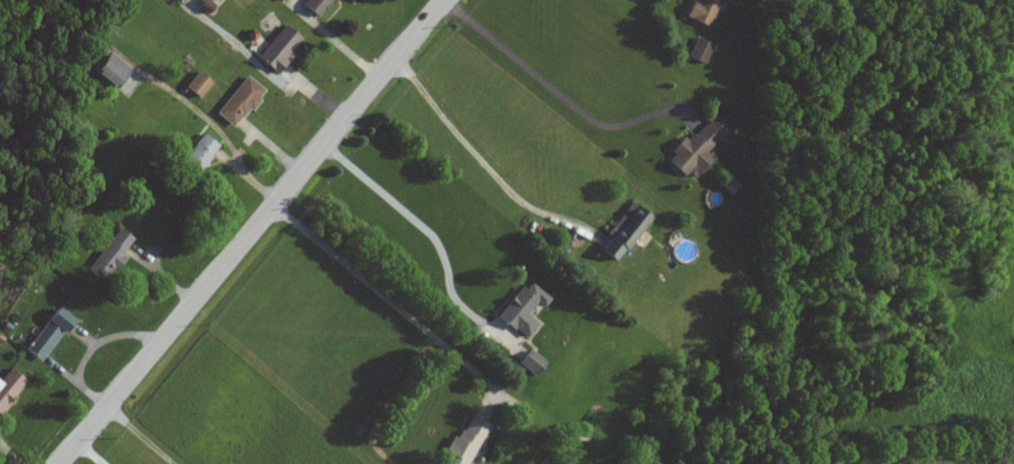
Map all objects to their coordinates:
building: (200, 0)
building: (279, 0)
building: (314, 6)
building: (702, 11)
road: (339, 41)
building: (277, 48)
building: (699, 50)
road: (263, 74)
building: (196, 84)
road: (566, 97)
building: (238, 101)
road: (213, 127)
building: (694, 148)
building: (196, 152)
road: (479, 154)
building: (623, 231)
road: (248, 232)
road: (435, 232)
building: (109, 256)
road: (397, 303)
building: (522, 309)
building: (47, 335)
road: (97, 351)
building: (531, 363)
building: (9, 385)
road: (141, 434)
building: (464, 443)
road: (13, 451)
road: (89, 453)

